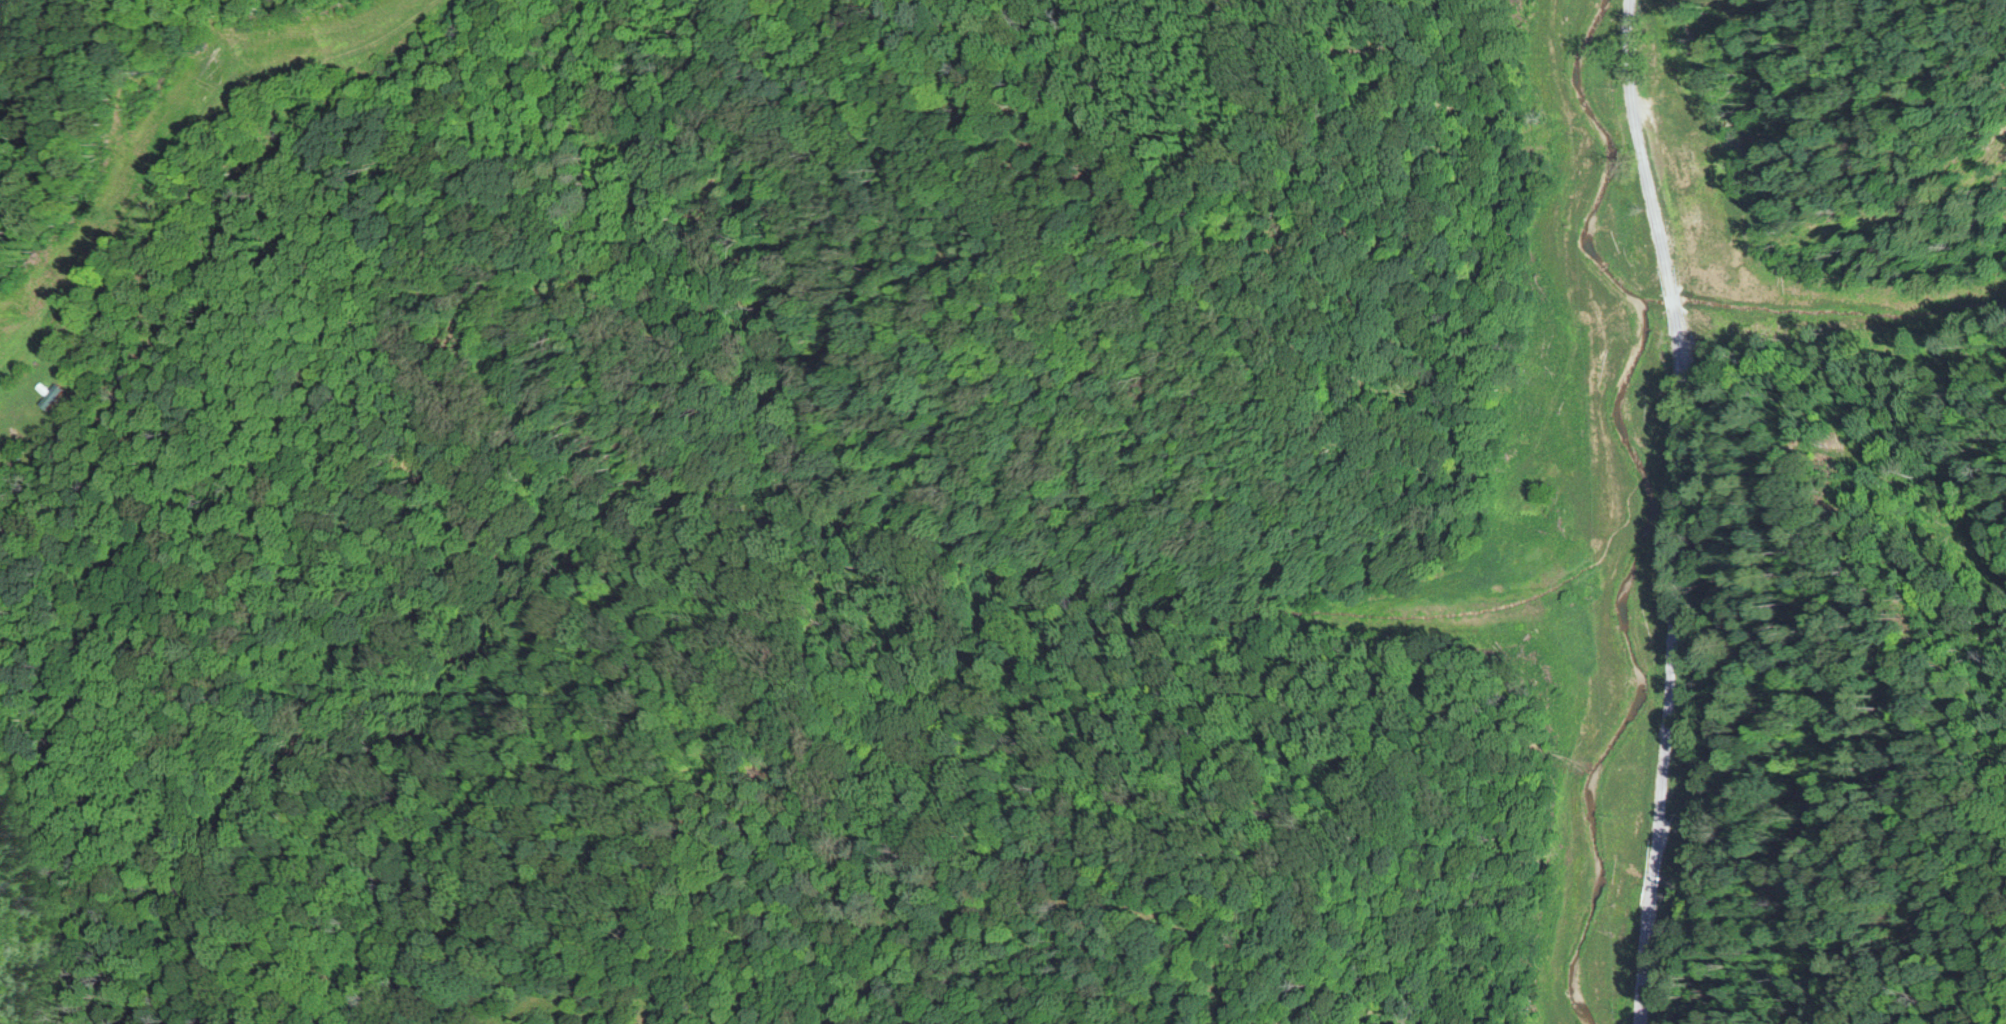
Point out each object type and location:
building: (1523, 497)

